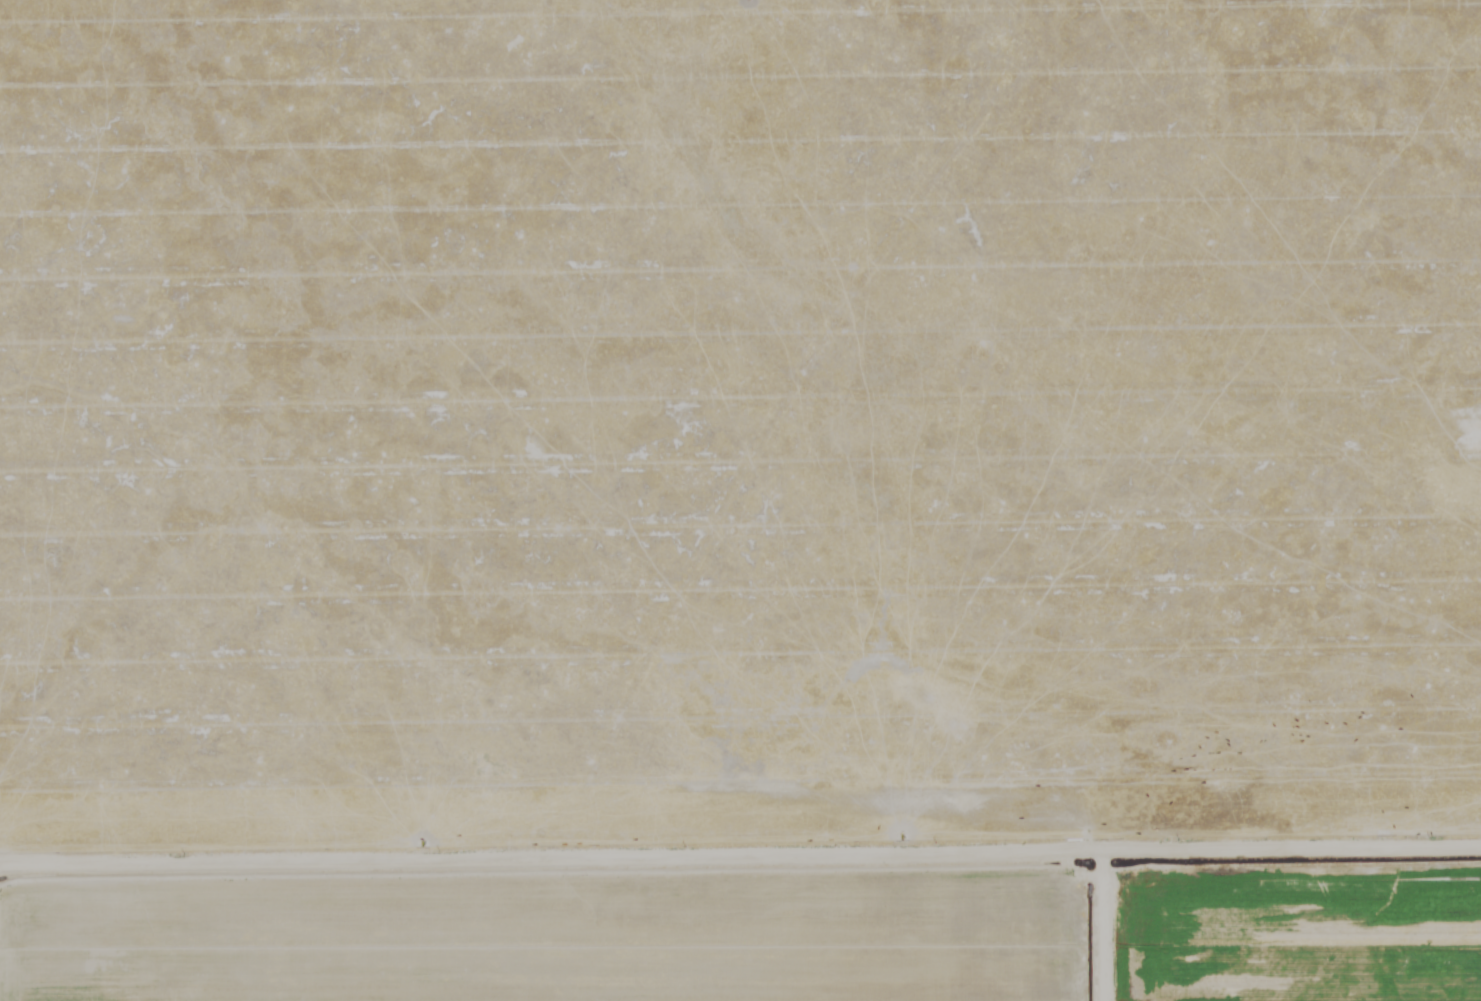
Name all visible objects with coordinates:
crop: (740, 500)

